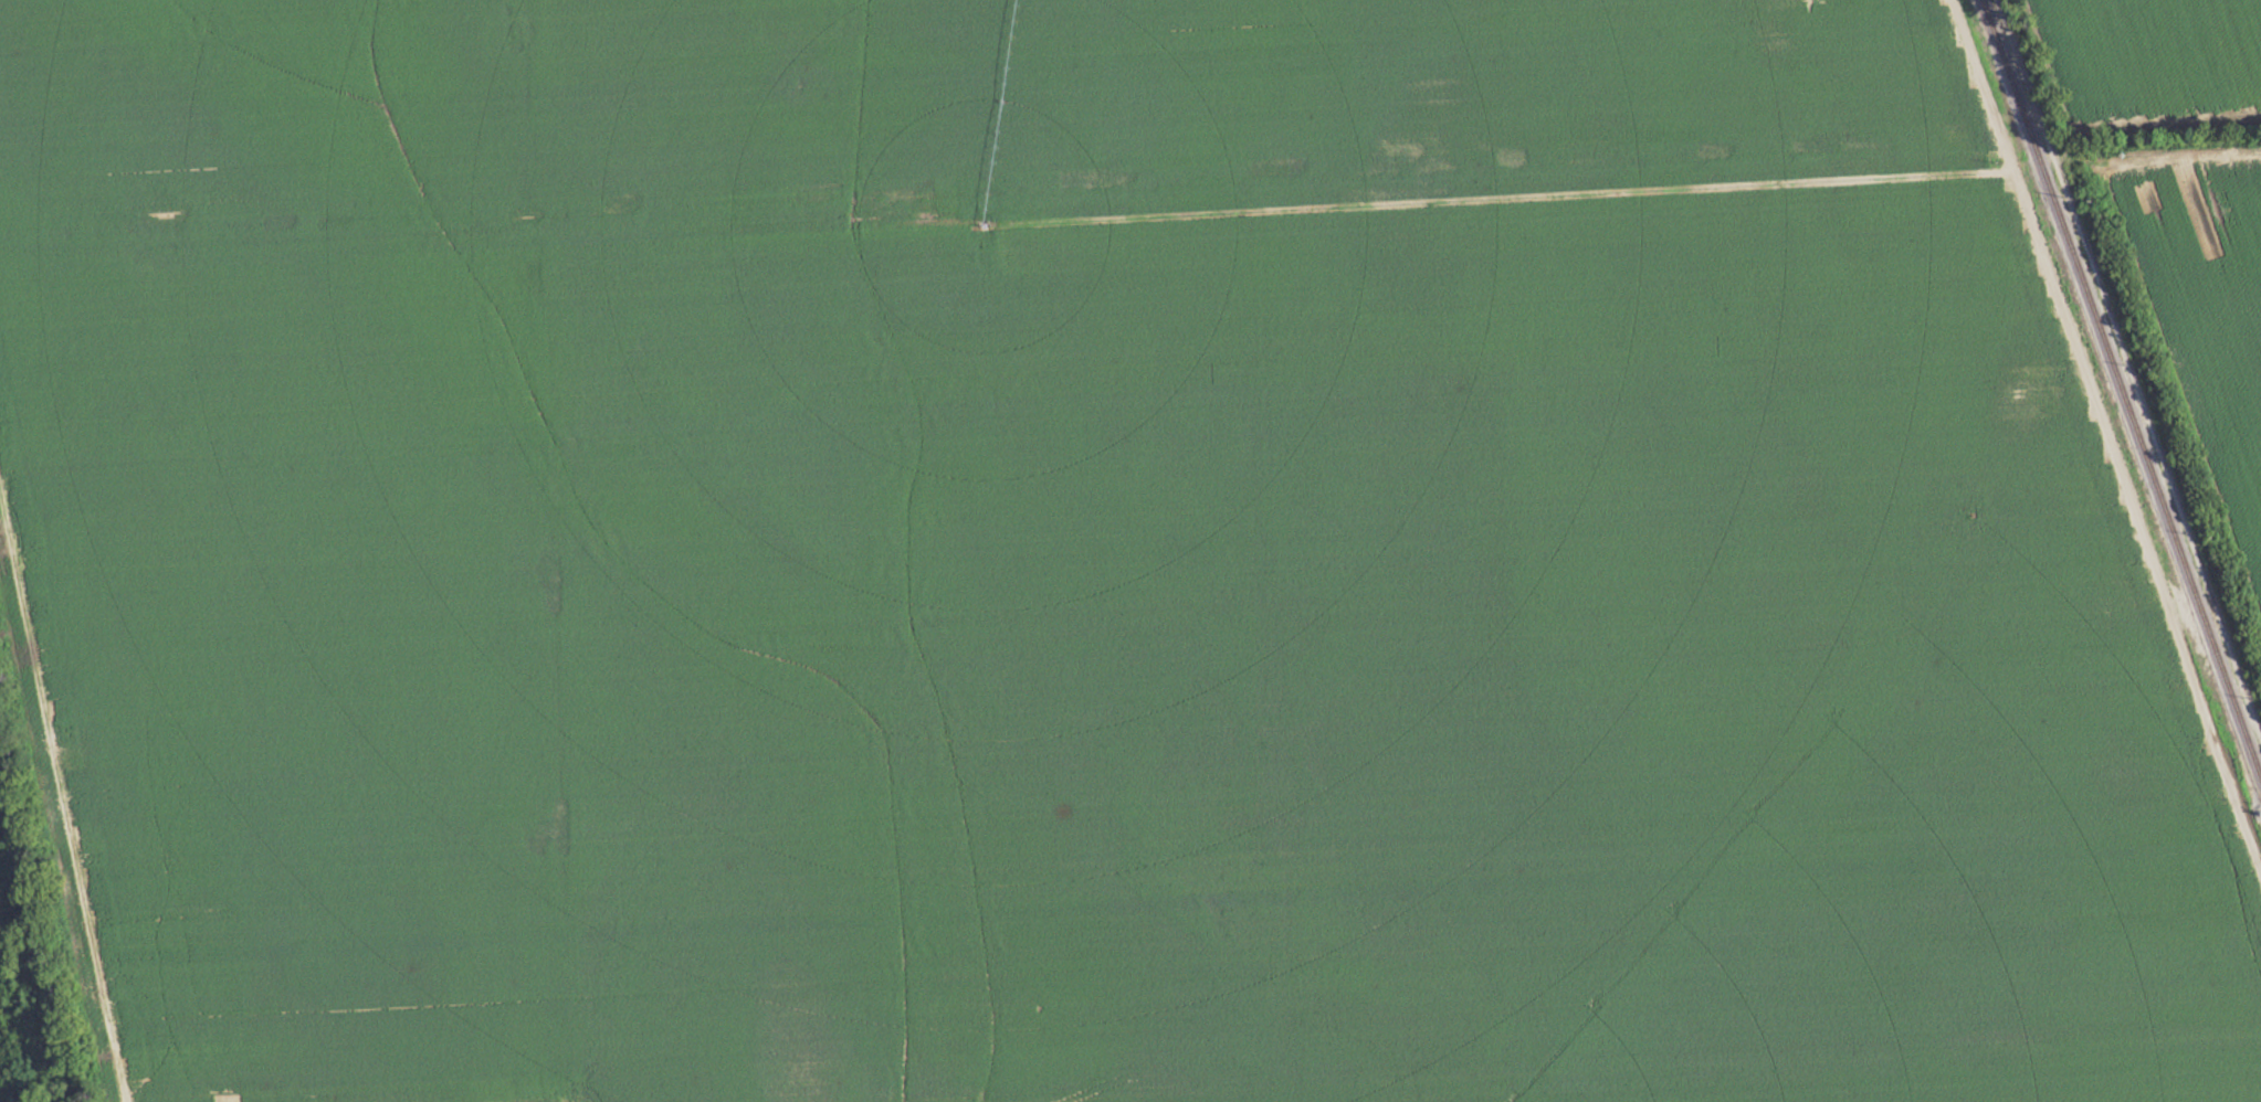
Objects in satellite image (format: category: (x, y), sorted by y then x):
railway: (2124, 382)
road: (2110, 447)

